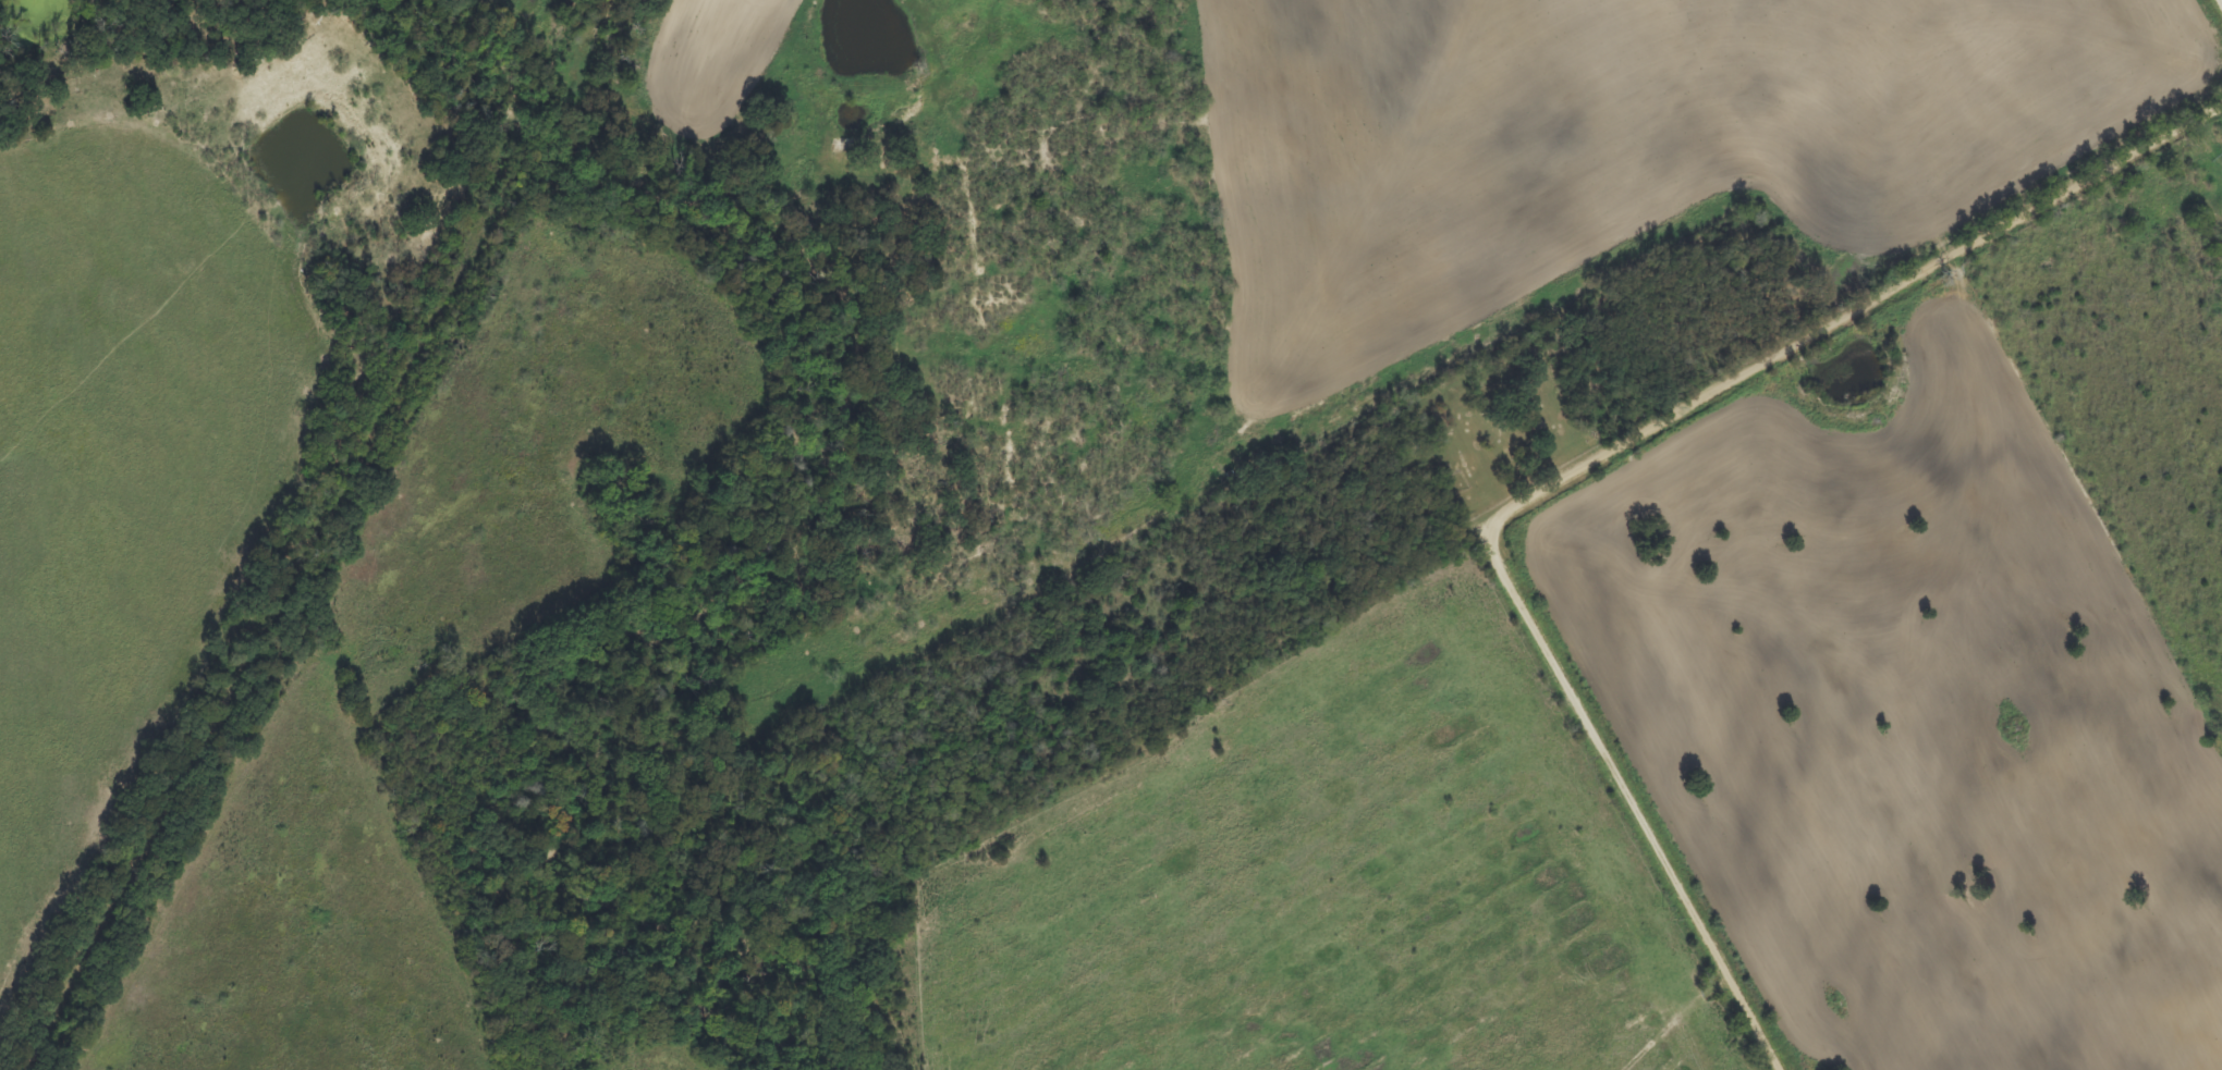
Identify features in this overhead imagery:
road: (1591, 466)
railway: (316, 534)

